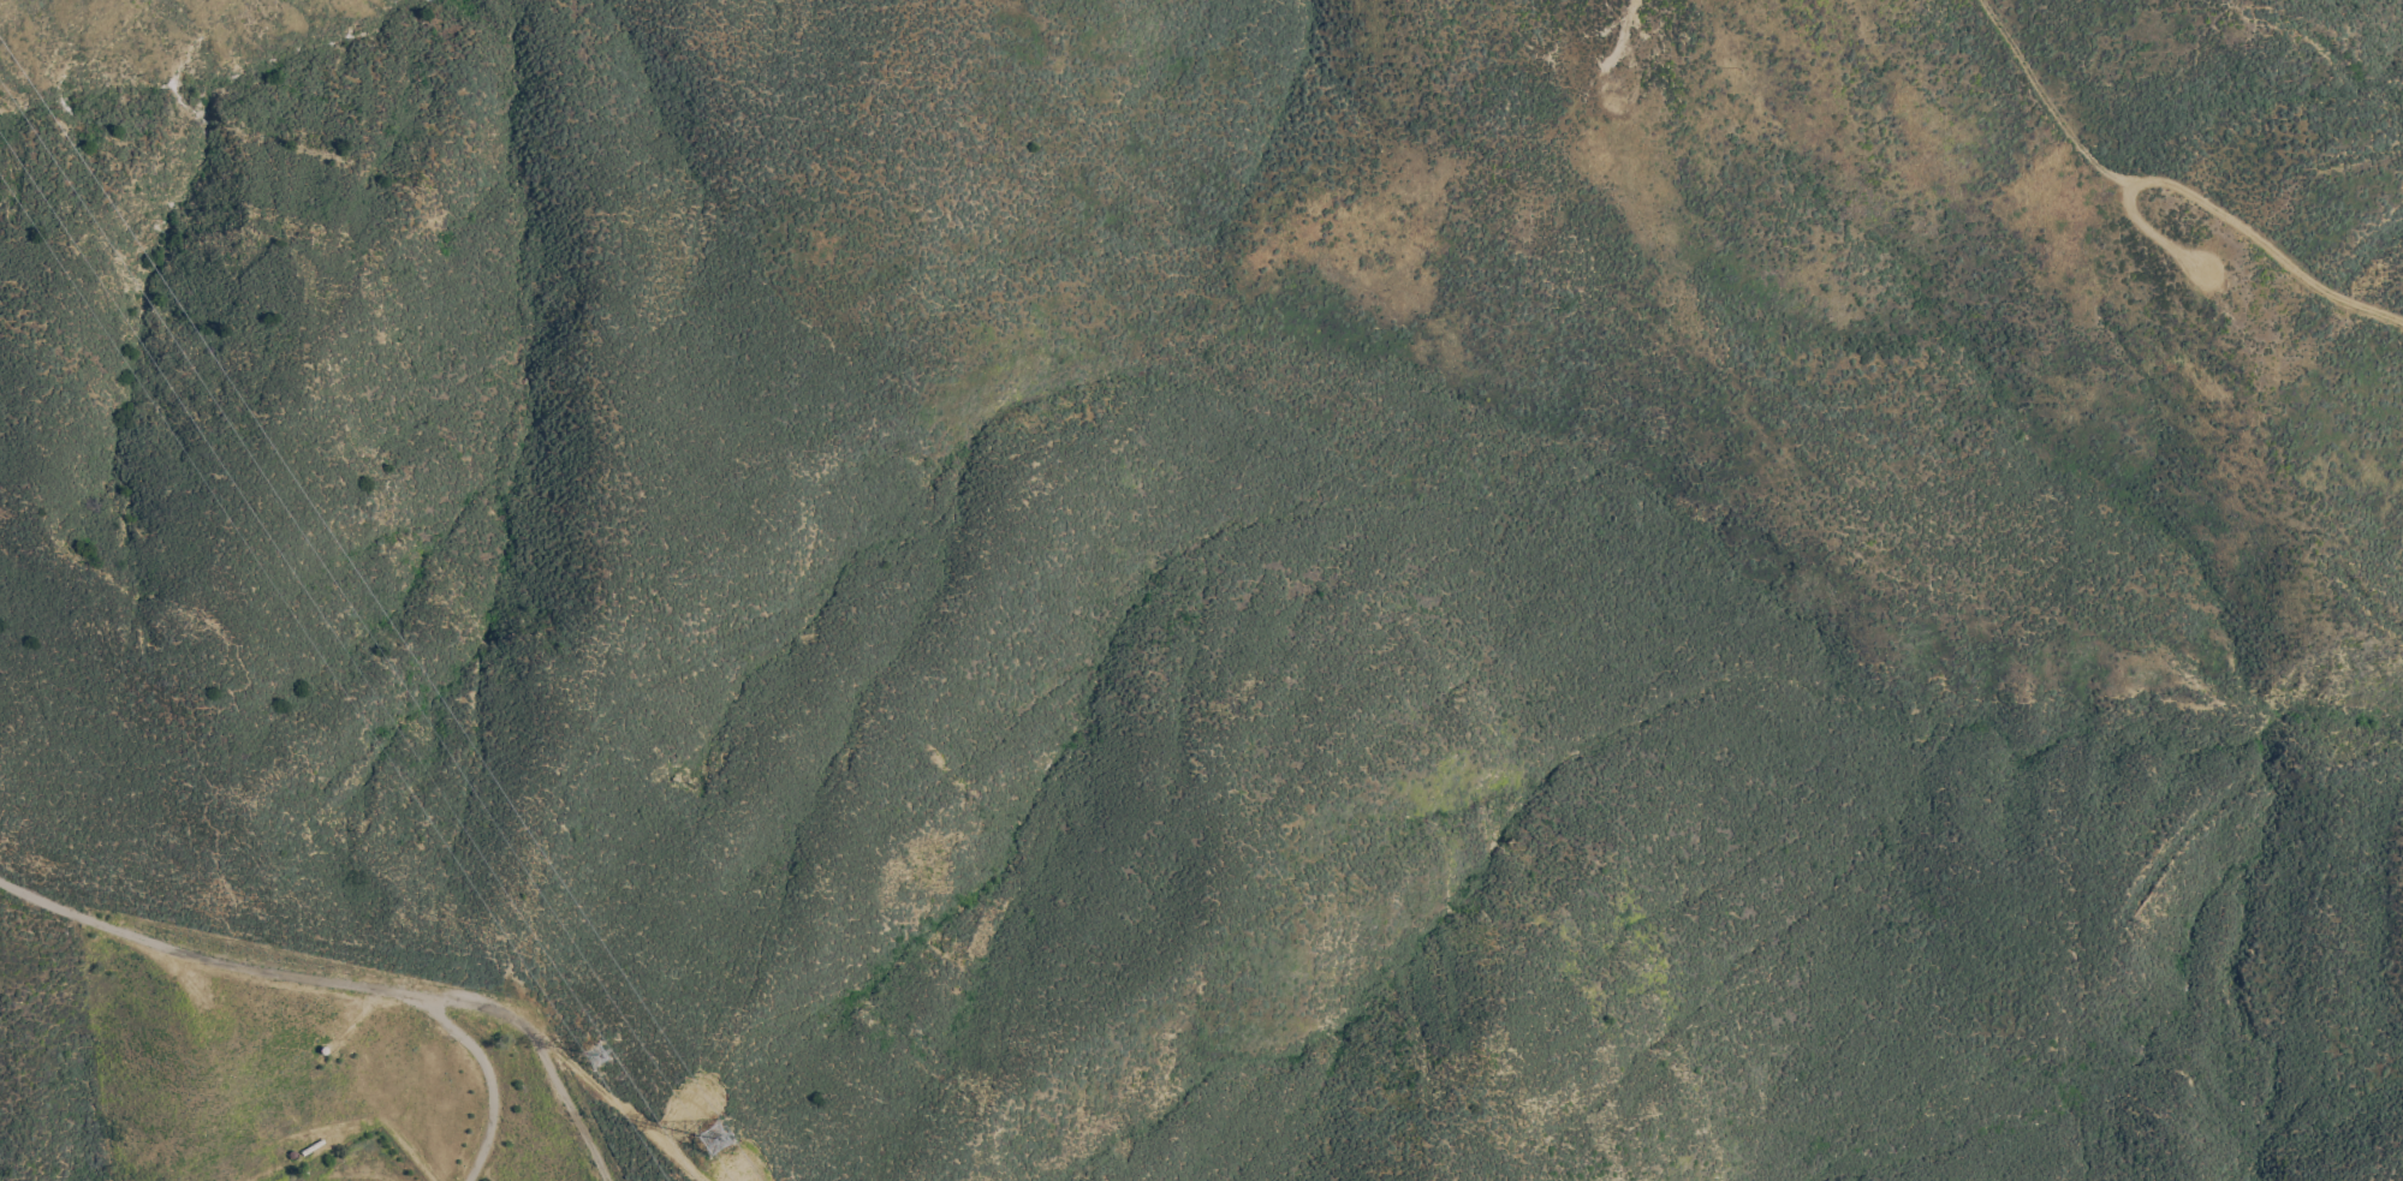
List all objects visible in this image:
road: (343, 988)
power tower: (590, 1056)
road: (480, 1073)
road: (603, 1098)
power tower: (708, 1141)
road: (726, 1174)

